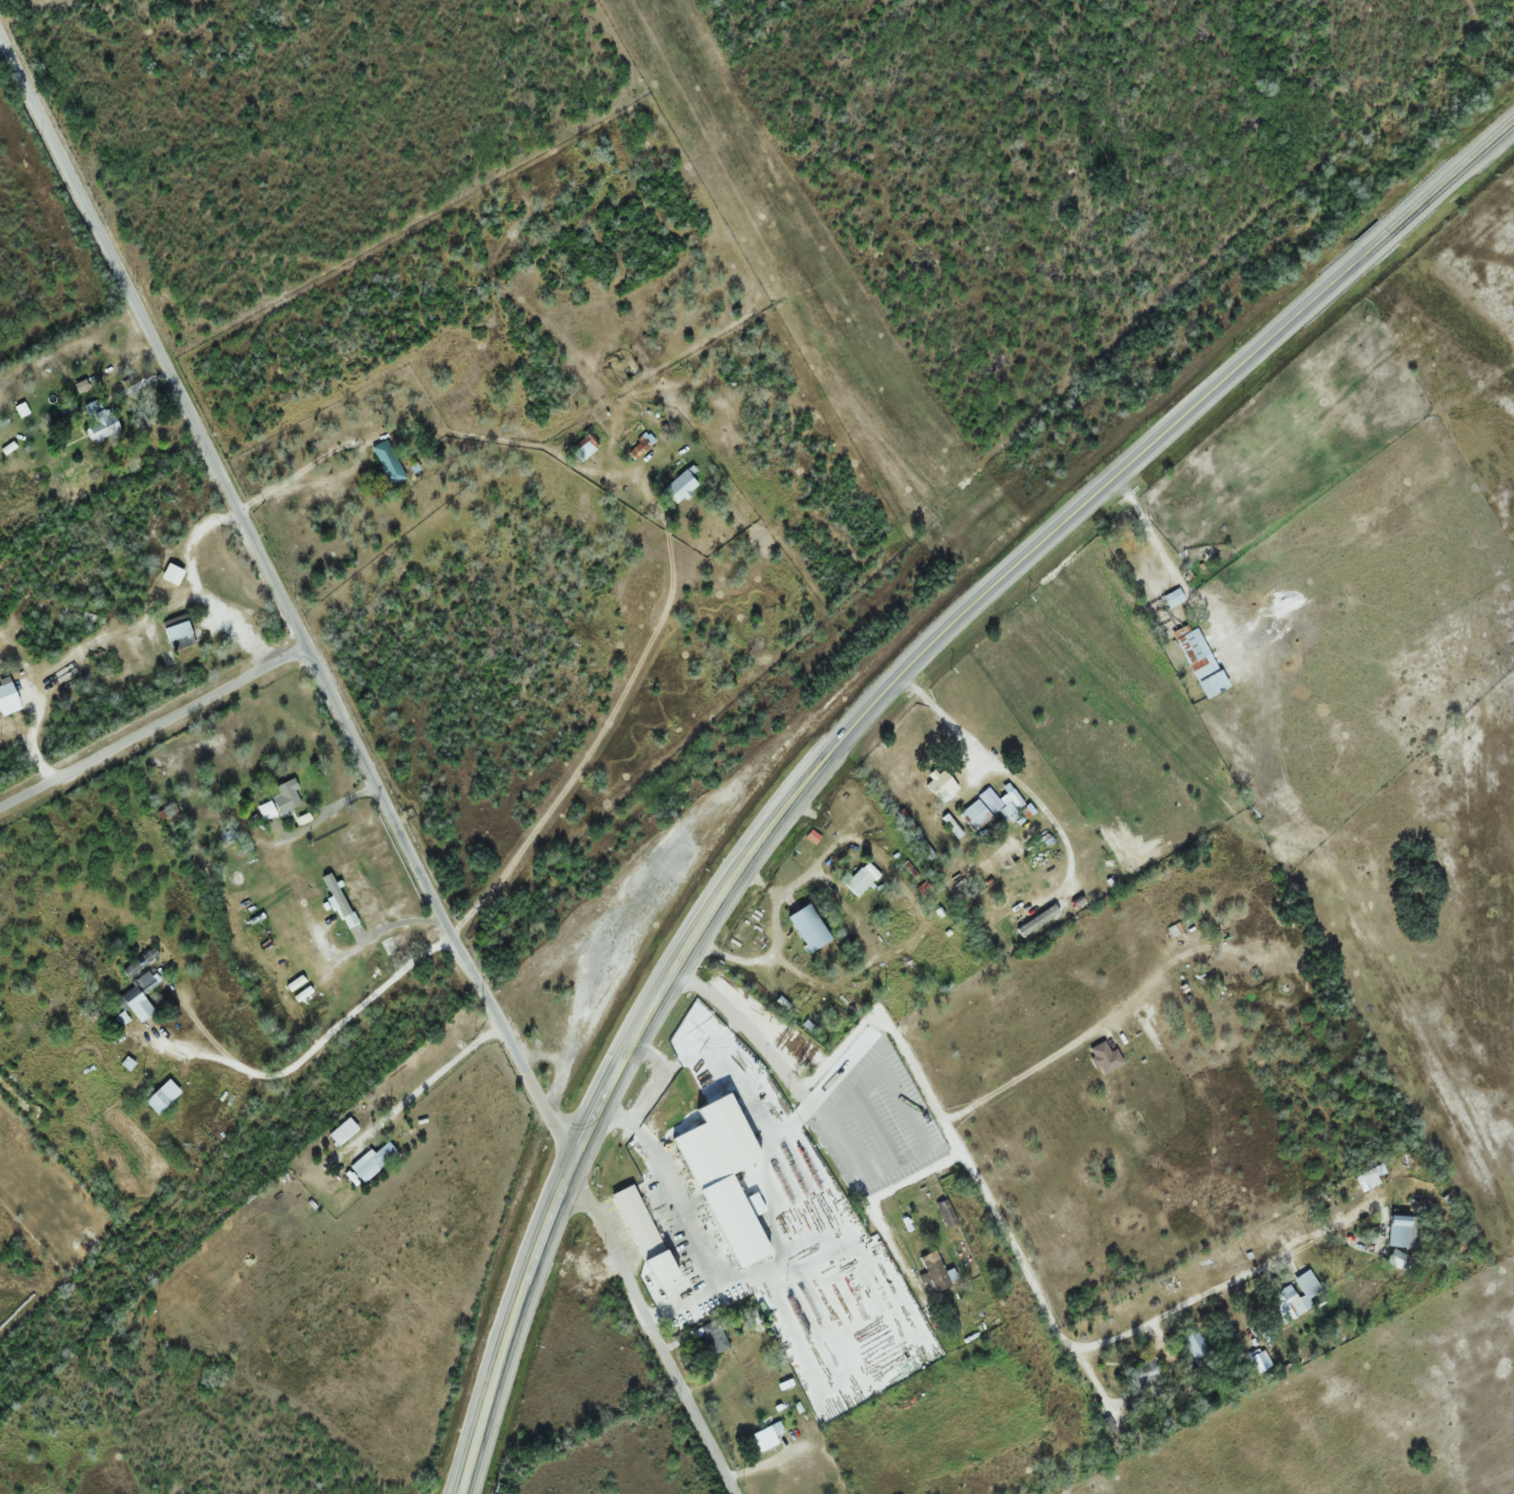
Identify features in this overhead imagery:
road: (409, 235)
road: (745, 259)
building: (99, 419)
building: (586, 447)
building: (388, 461)
road: (223, 481)
building: (681, 486)
building: (1174, 597)
building: (170, 636)
building: (1201, 660)
building: (8, 696)
road: (860, 716)
road: (154, 728)
road: (596, 741)
building: (941, 784)
building: (281, 801)
building: (982, 809)
building: (859, 882)
building: (810, 928)
building: (1177, 929)
building: (141, 962)
building: (140, 997)
building: (1150, 1030)
road: (314, 1047)
building: (739, 1092)
building: (164, 1097)
building: (787, 1114)
building: (1192, 1114)
building: (374, 1160)
building: (293, 1166)
building: (710, 1169)
road: (590, 1204)
building: (947, 1213)
road: (996, 1217)
building: (639, 1223)
building: (1400, 1231)
building: (935, 1272)
building: (1291, 1303)
building: (714, 1338)
building: (1196, 1346)
building: (934, 1352)
building: (1147, 1371)
building: (769, 1437)

